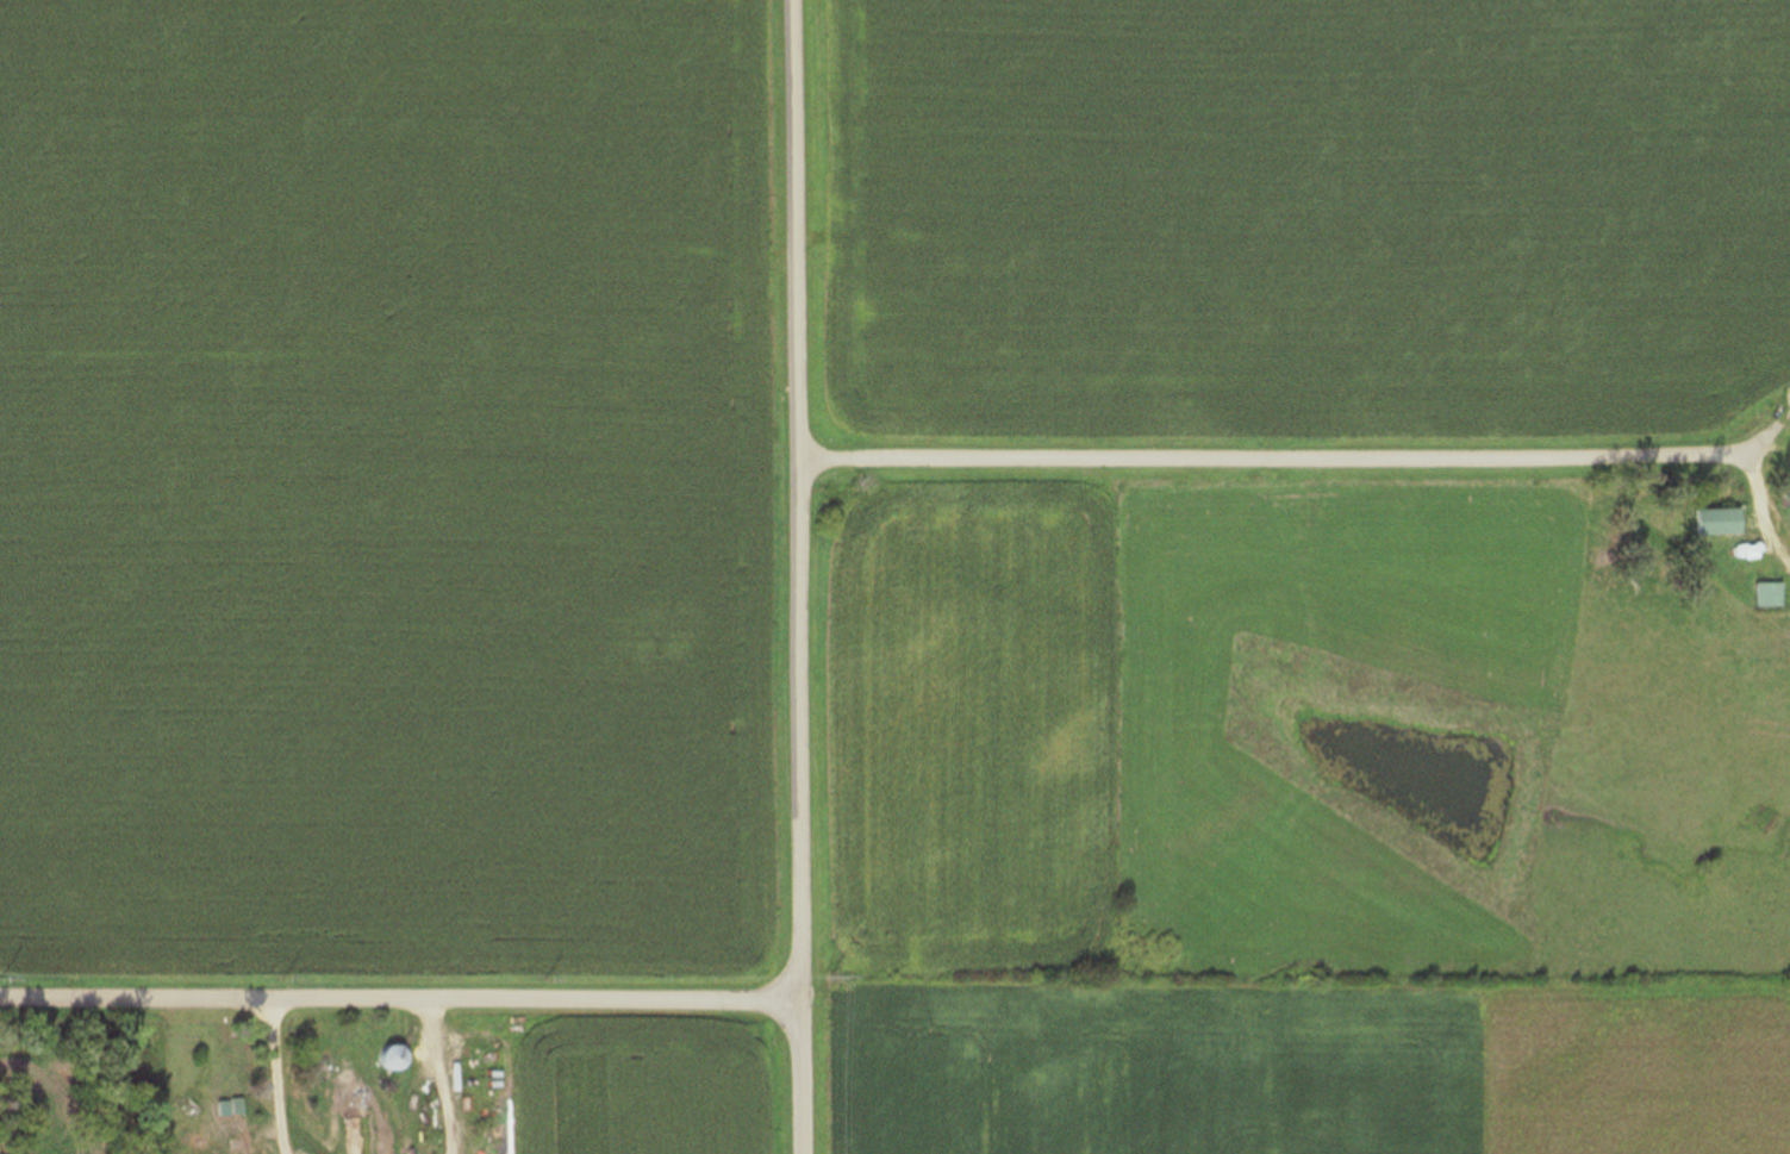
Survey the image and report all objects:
road: (1268, 459)
building: (1788, 510)
building: (1708, 523)
road: (792, 576)
building: (1760, 595)
road: (395, 1009)
building: (383, 1058)

